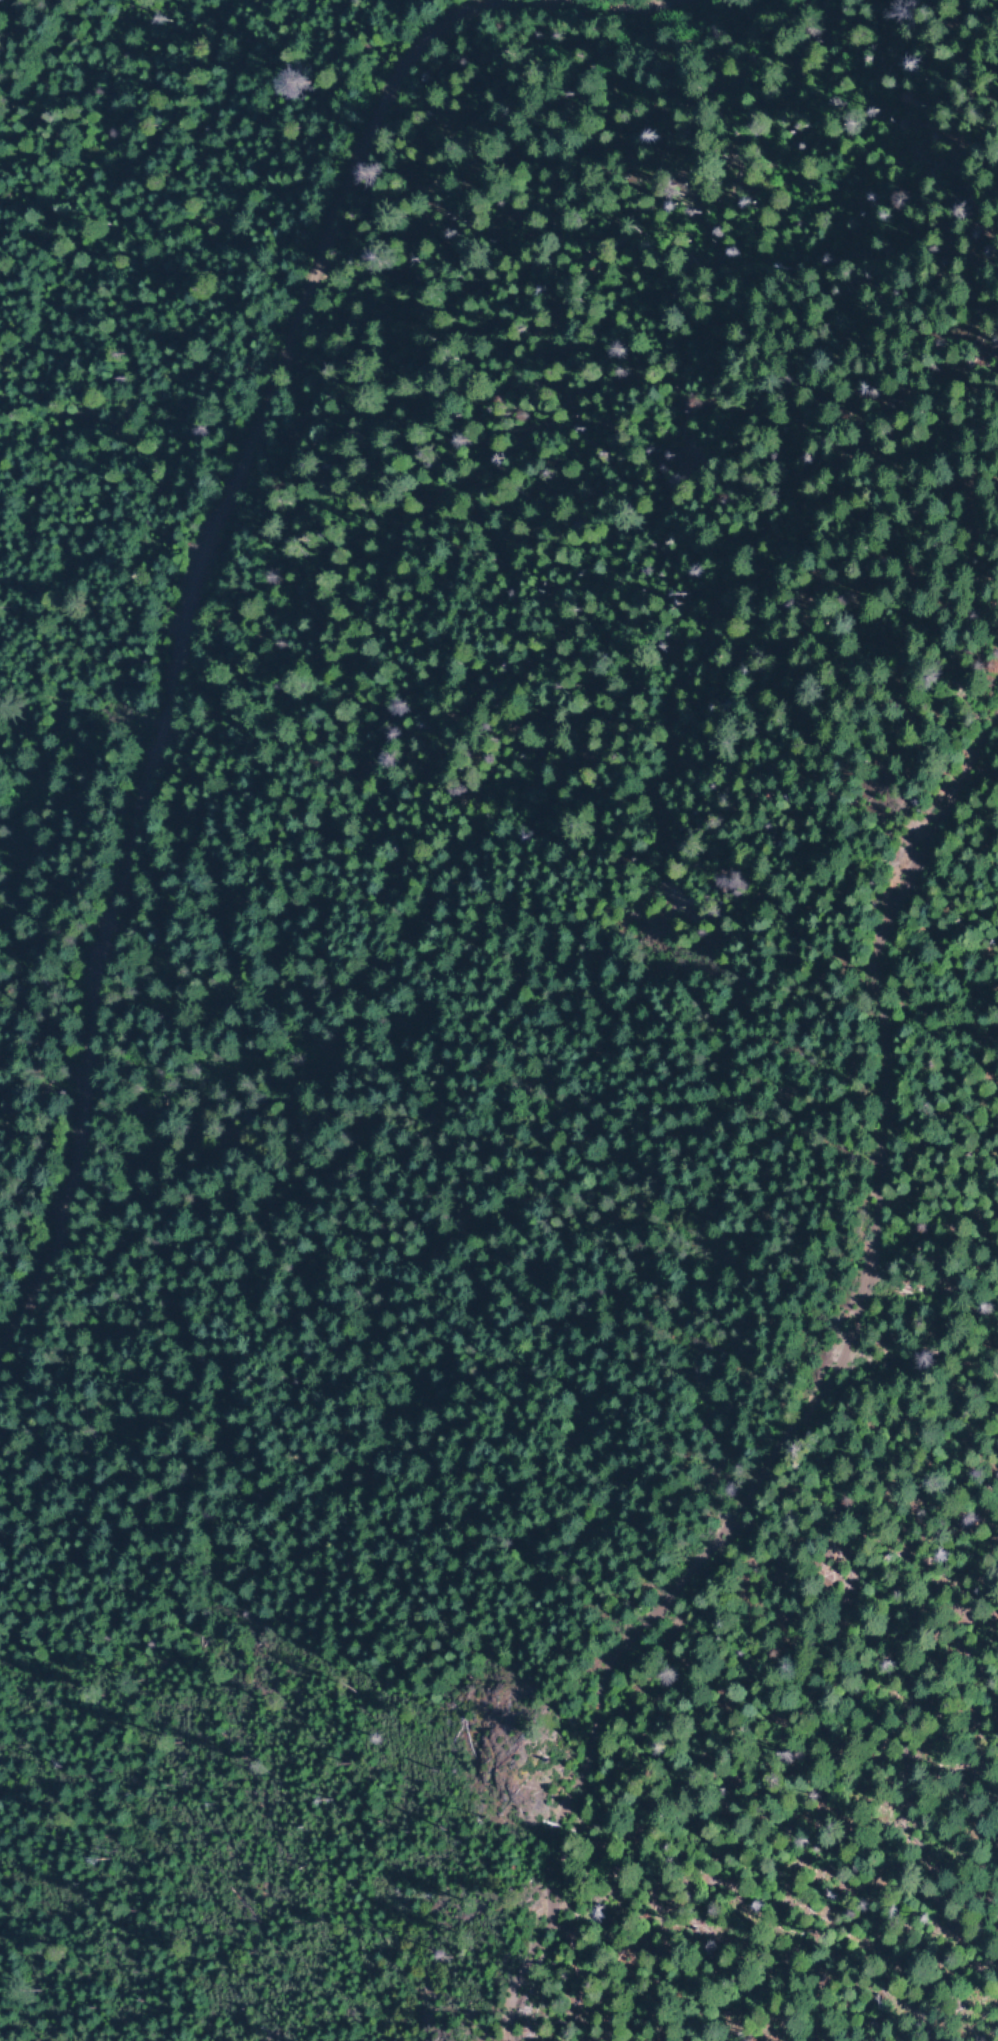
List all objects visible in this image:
road: (619, 7)
road: (176, 632)
road: (799, 1417)

